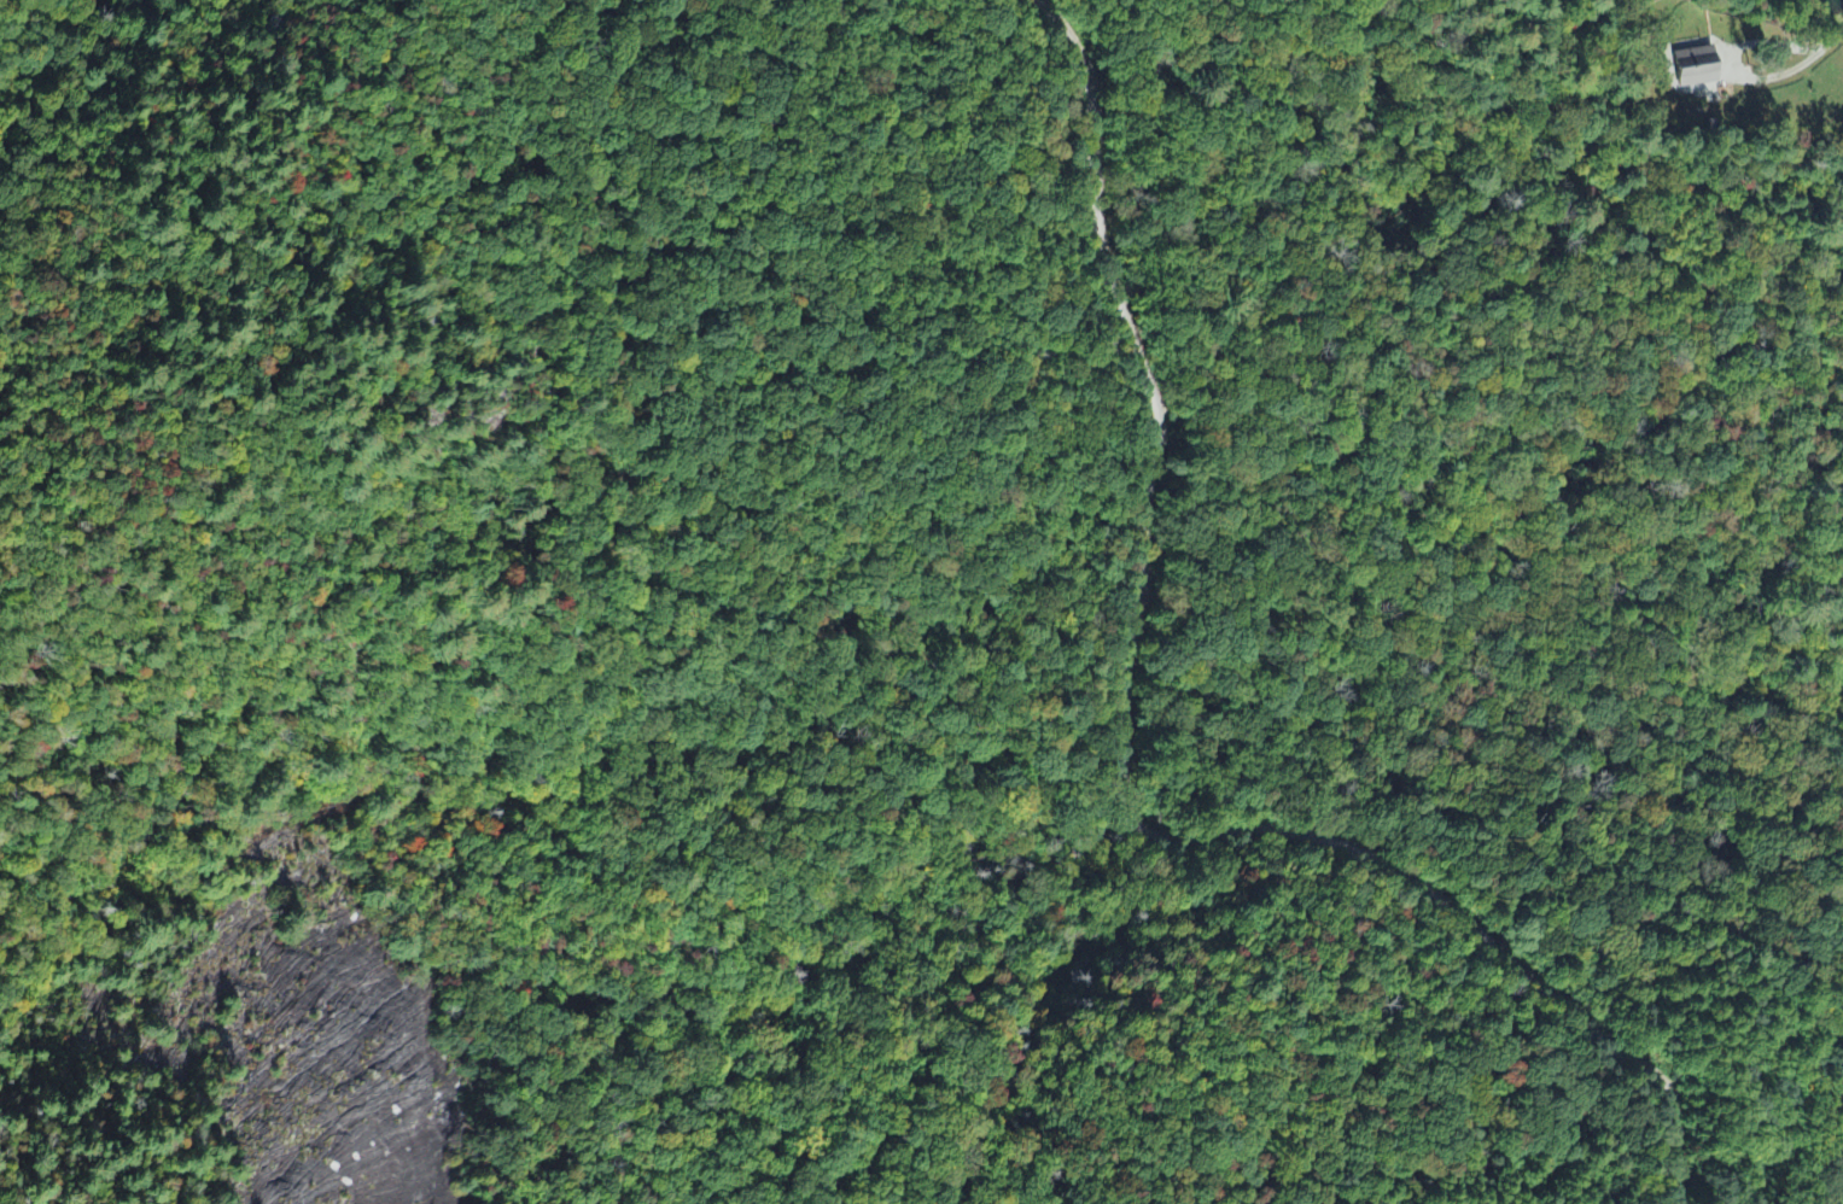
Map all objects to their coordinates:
building: (1695, 69)
road: (1645, 230)
road: (1121, 771)

